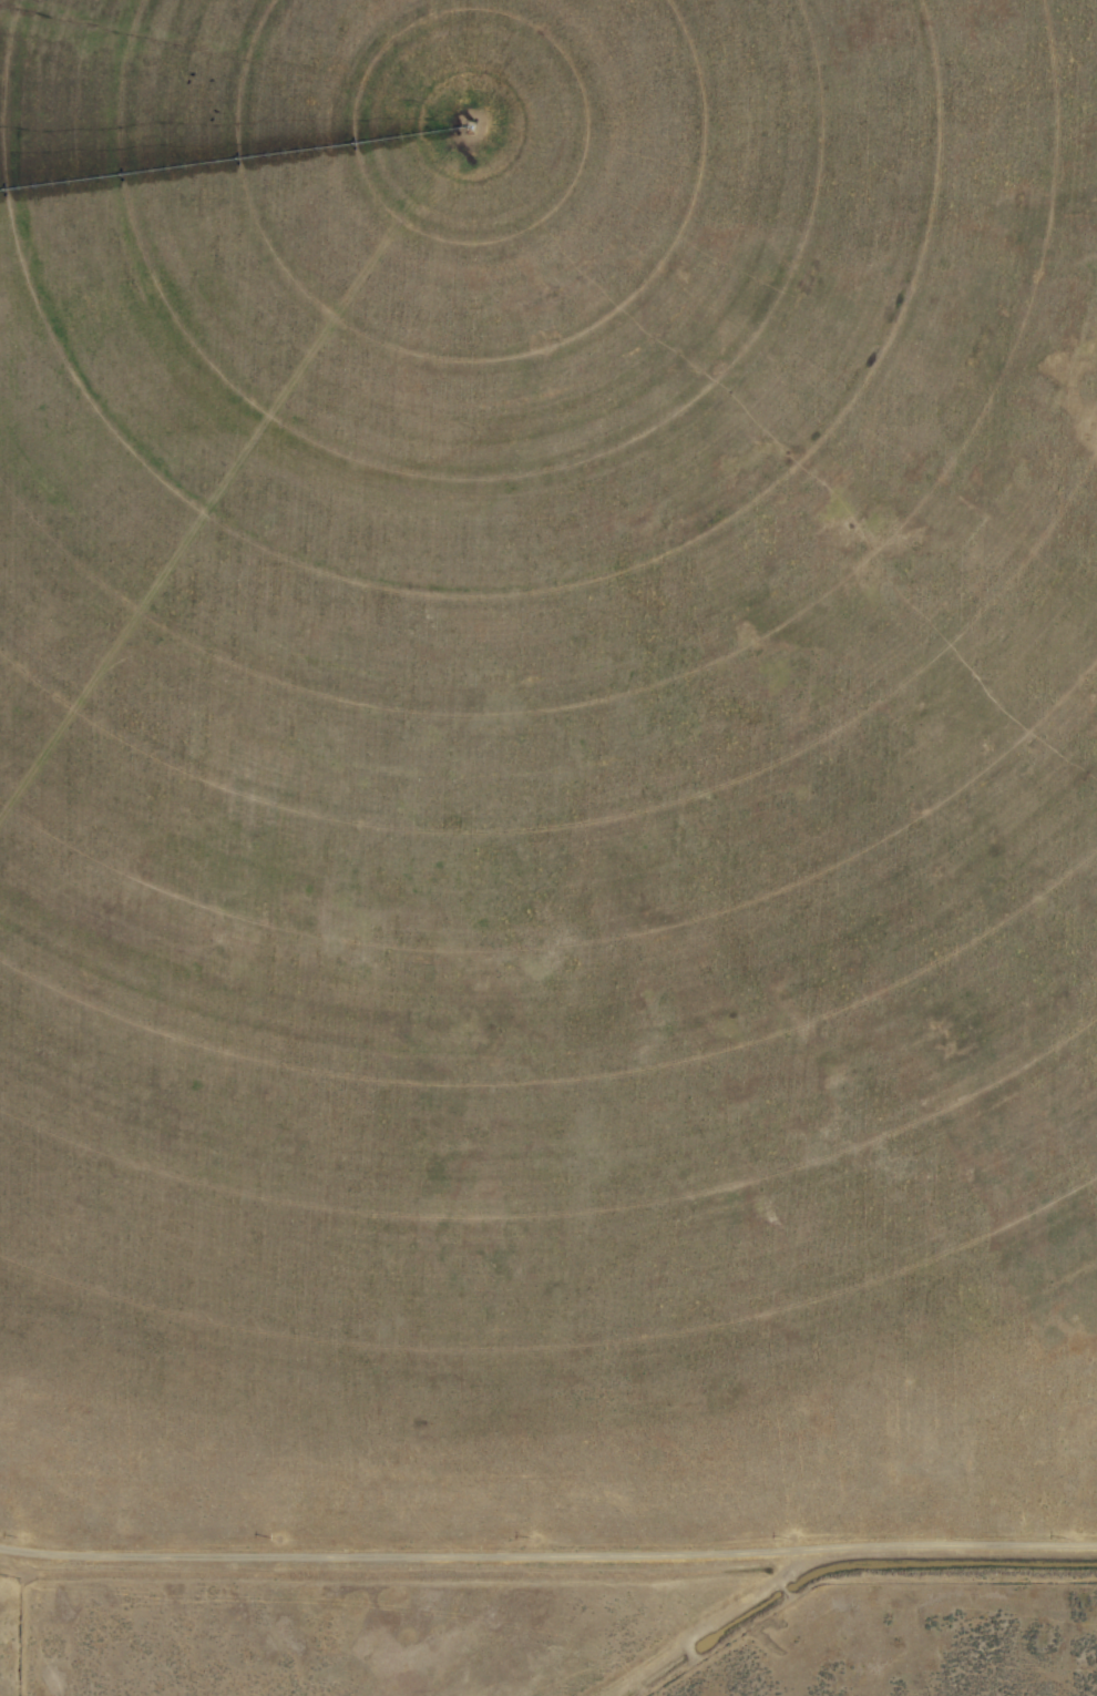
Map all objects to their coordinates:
crop: (548, 848)
road: (547, 1556)

